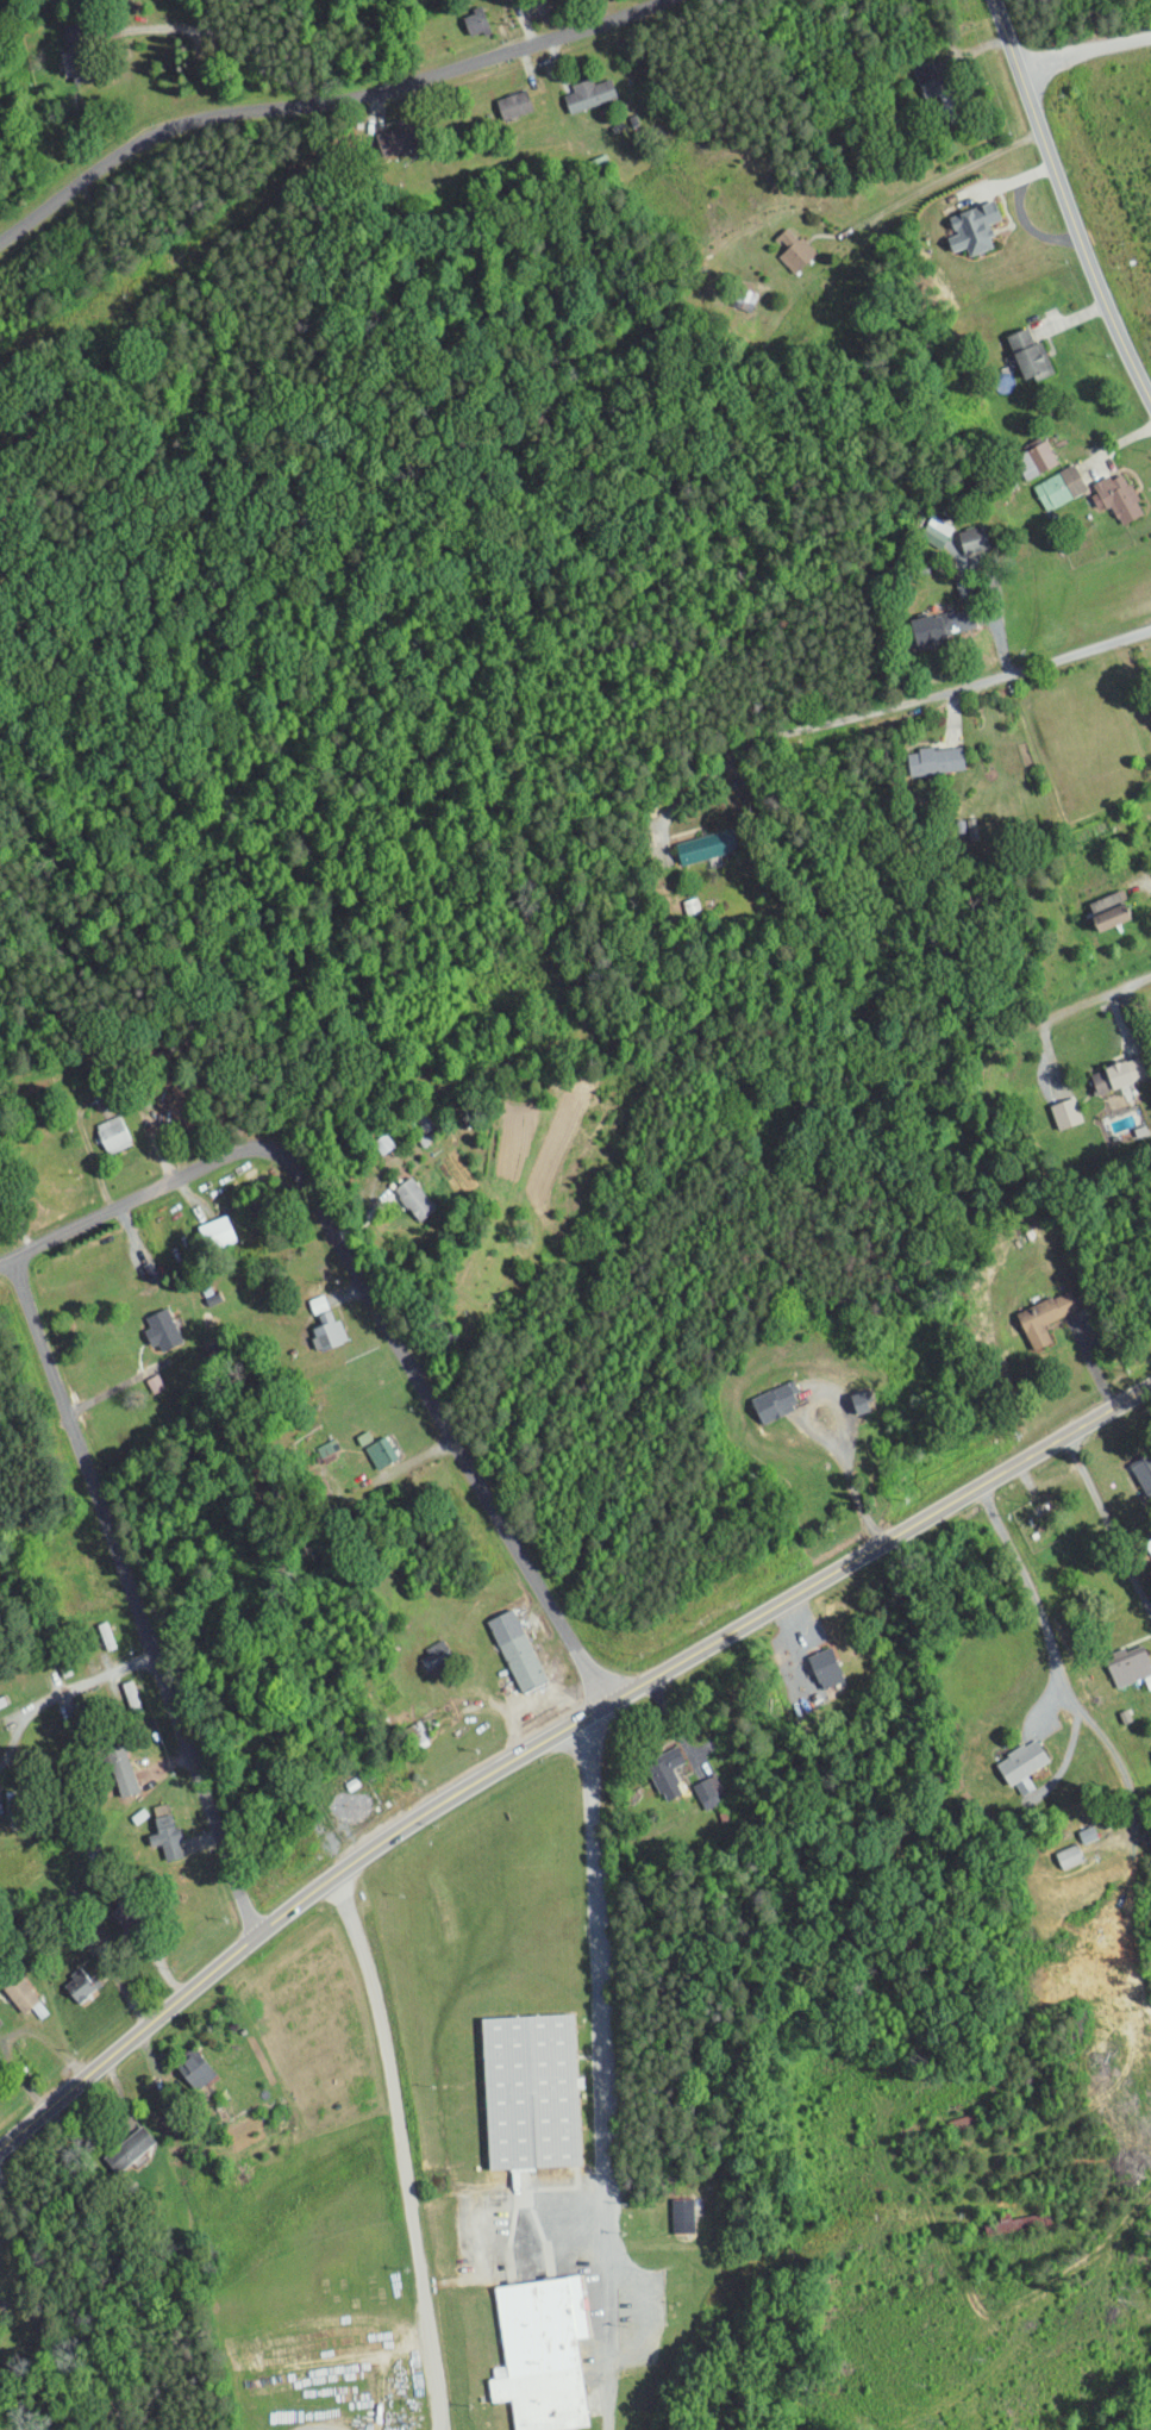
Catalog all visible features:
building: (462, 13)
road: (220, 36)
road: (1082, 52)
building: (917, 70)
building: (574, 86)
road: (68, 93)
road: (318, 93)
building: (498, 95)
building: (381, 130)
road: (942, 179)
road: (1064, 205)
building: (958, 219)
building: (778, 242)
building: (1014, 345)
building: (1020, 451)
building: (1045, 479)
building: (1102, 489)
building: (922, 524)
building: (958, 531)
road: (1024, 551)
building: (927, 617)
road: (877, 710)
building: (1147, 727)
building: (921, 752)
building: (687, 839)
building: (1095, 902)
road: (1083, 1006)
building: (1103, 1067)
building: (1051, 1105)
building: (99, 1126)
building: (369, 1135)
building: (399, 1191)
building: (202, 1225)
road: (6, 1263)
building: (302, 1295)
road: (371, 1303)
building: (1030, 1310)
building: (146, 1322)
building: (313, 1324)
building: (139, 1375)
road: (118, 1387)
building: (759, 1394)
building: (845, 1394)
road: (824, 1435)
road: (1057, 1442)
building: (365, 1444)
building: (1132, 1467)
road: (1108, 1523)
road: (133, 1598)
road: (784, 1600)
building: (501, 1642)
building: (420, 1649)
building: (1115, 1657)
building: (811, 1660)
road: (1061, 1676)
road: (57, 1697)
building: (1008, 1754)
building: (106, 1762)
building: (651, 1766)
building: (694, 1784)
building: (151, 1830)
building: (1055, 1847)
road: (289, 1911)
building: (67, 1975)
building: (8, 1987)
road: (10, 2030)
building: (180, 2061)
road: (602, 2067)
building: (515, 2082)
building: (114, 2139)
road: (402, 2151)
building: (668, 2206)
road: (65, 2304)
building: (526, 2345)

